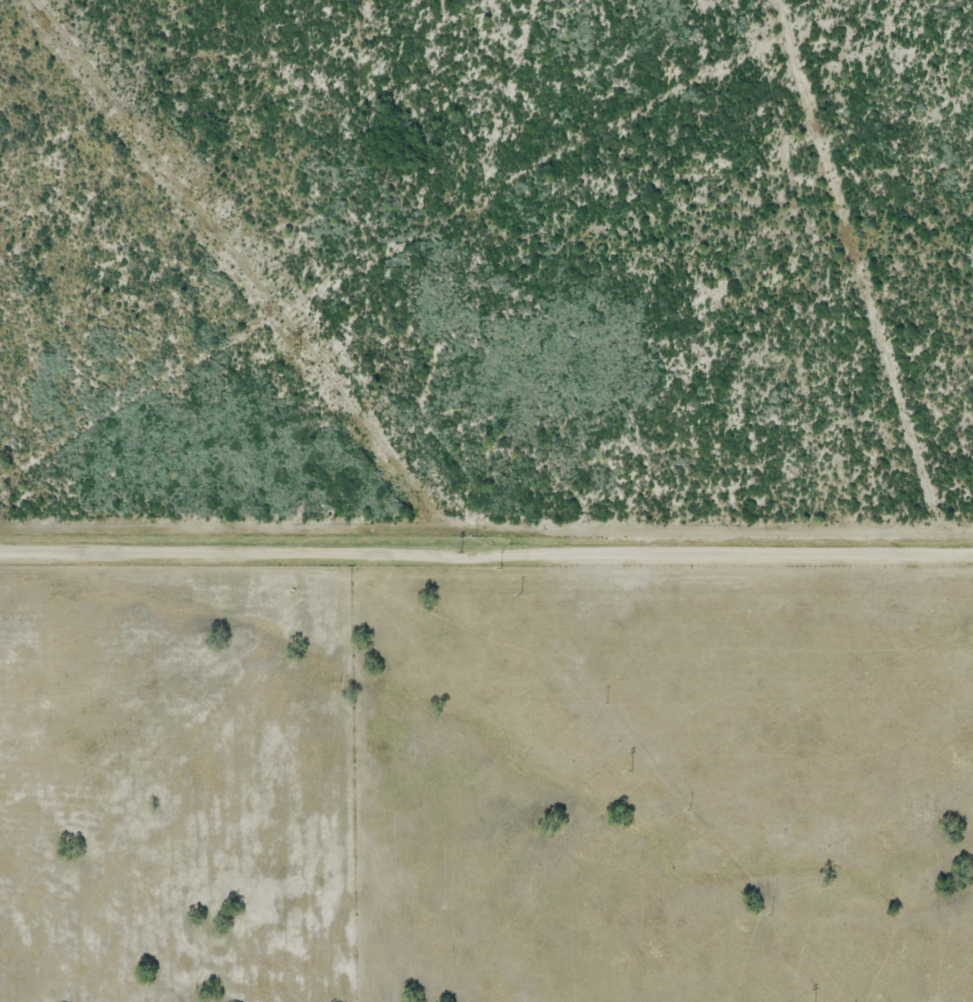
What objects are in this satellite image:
power tower: (132, 134)
power tower: (300, 348)
power tower: (460, 552)
road: (486, 554)
power tower: (631, 768)

